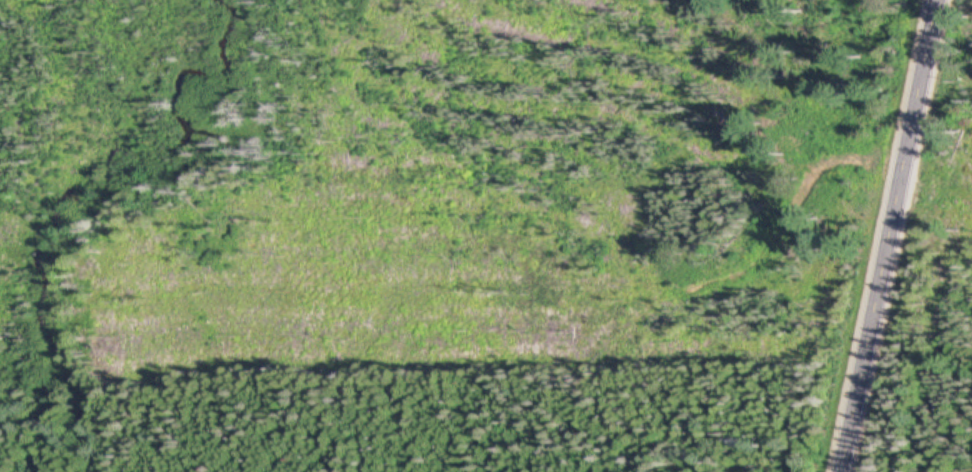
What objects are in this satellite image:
road: (890, 235)

